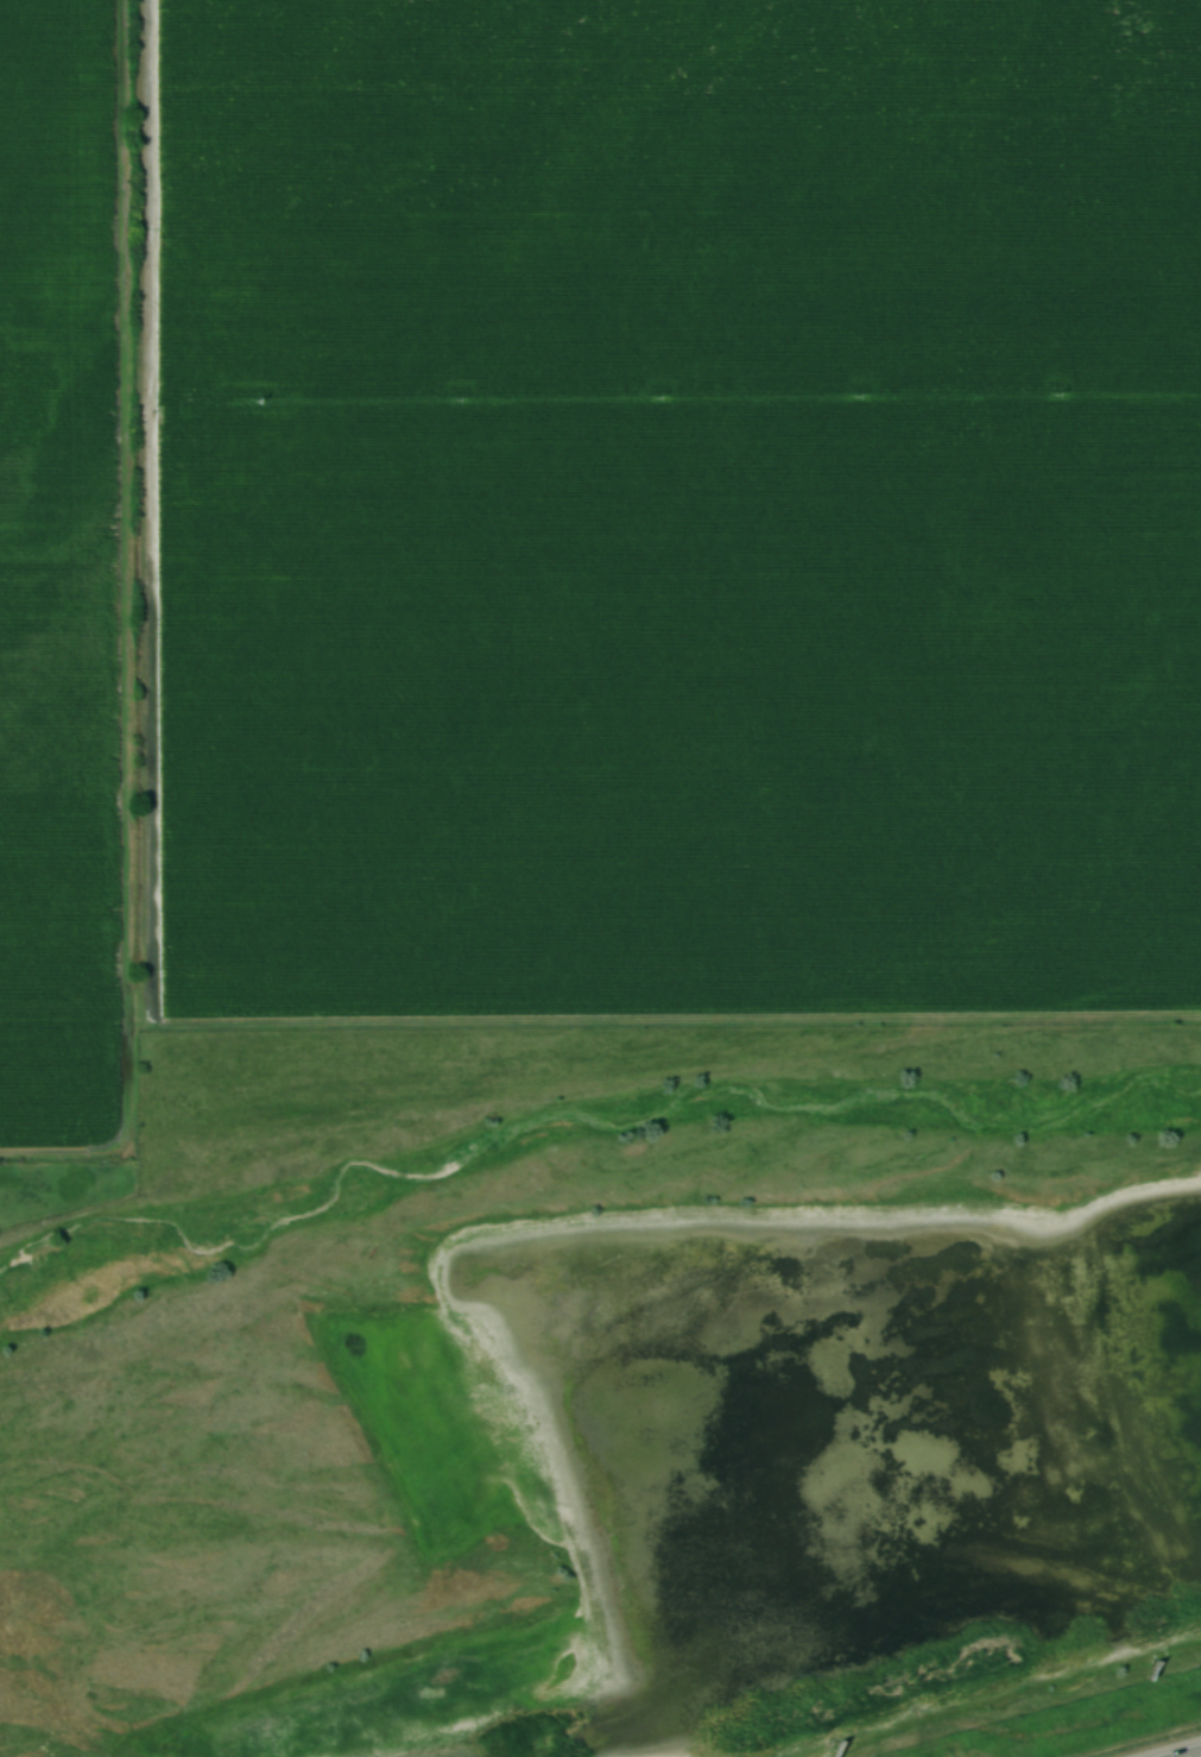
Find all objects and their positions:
road: (1200, 1756)

